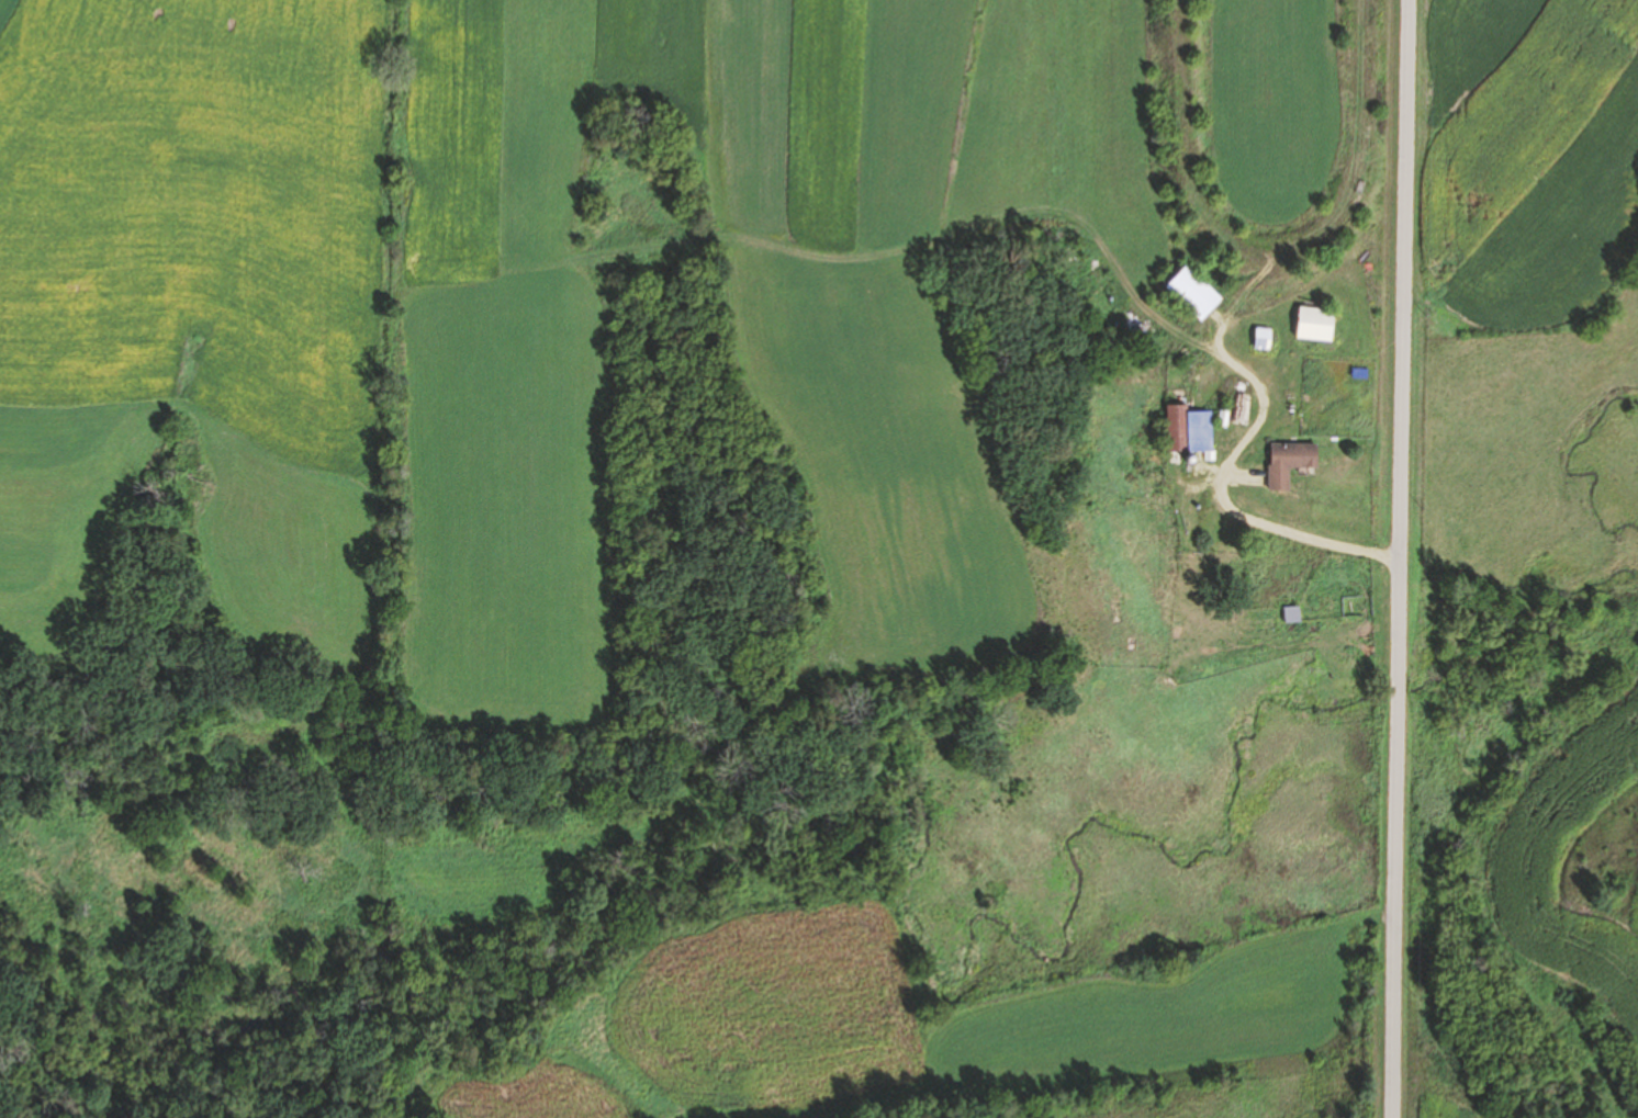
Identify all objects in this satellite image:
building: (1193, 292)
building: (1315, 324)
building: (1264, 339)
building: (1200, 431)
building: (1289, 462)
road: (1402, 558)

